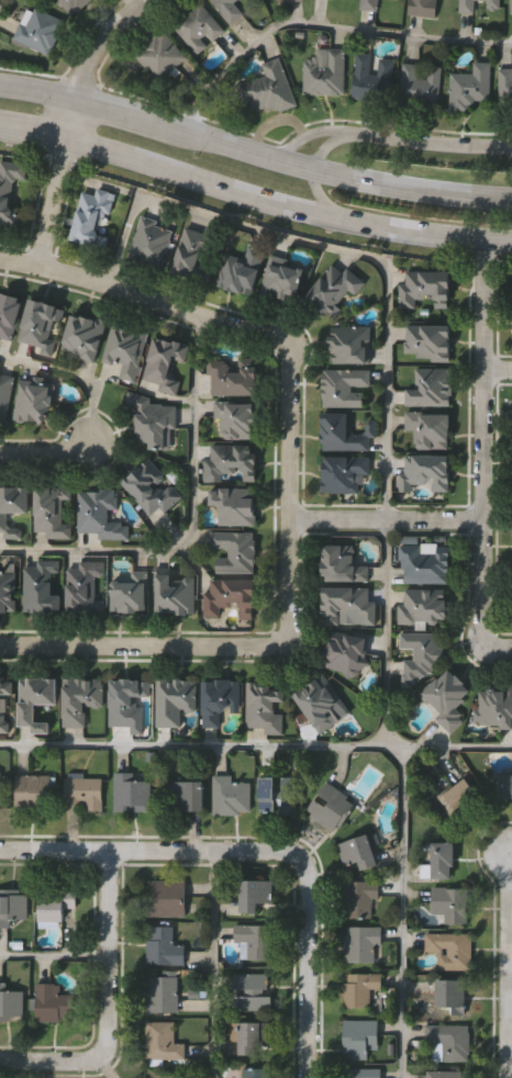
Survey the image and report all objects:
building: (289, 0)
road: (1, 1)
building: (494, 3)
building: (75, 4)
building: (370, 4)
building: (468, 5)
building: (511, 5)
building: (423, 8)
building: (231, 9)
road: (320, 26)
building: (198, 27)
building: (40, 30)
road: (98, 43)
building: (160, 56)
building: (324, 72)
building: (372, 79)
building: (419, 82)
building: (469, 87)
building: (268, 88)
building: (504, 91)
road: (37, 93)
road: (109, 113)
road: (71, 121)
road: (34, 134)
road: (301, 135)
road: (428, 135)
road: (203, 142)
road: (325, 149)
road: (288, 168)
road: (204, 182)
road: (411, 187)
building: (10, 191)
road: (323, 200)
road: (54, 203)
building: (93, 217)
road: (426, 235)
building: (152, 242)
building: (196, 255)
building: (241, 271)
building: (283, 278)
building: (333, 289)
building: (426, 289)
road: (142, 294)
building: (10, 314)
building: (42, 324)
road: (389, 335)
building: (87, 337)
building: (352, 343)
building: (427, 344)
building: (126, 350)
building: (166, 367)
road: (498, 368)
building: (232, 375)
road: (73, 377)
building: (345, 386)
building: (430, 389)
building: (5, 395)
building: (35, 398)
building: (235, 418)
building: (152, 422)
building: (430, 428)
building: (346, 433)
road: (485, 442)
road: (49, 453)
building: (230, 461)
building: (425, 471)
building: (344, 472)
building: (151, 485)
road: (290, 490)
building: (234, 505)
building: (12, 506)
building: (53, 509)
road: (388, 512)
building: (101, 513)
road: (194, 525)
building: (235, 552)
building: (343, 563)
building: (425, 563)
building: (40, 586)
building: (86, 586)
building: (9, 589)
building: (132, 592)
building: (172, 595)
building: (230, 597)
building: (348, 605)
building: (424, 605)
road: (498, 642)
road: (142, 644)
building: (347, 652)
building: (419, 654)
building: (81, 698)
building: (447, 698)
building: (176, 699)
building: (221, 699)
building: (320, 699)
building: (37, 700)
building: (1, 703)
building: (130, 703)
building: (494, 708)
building: (264, 709)
road: (256, 748)
building: (504, 785)
building: (1, 789)
building: (85, 789)
building: (33, 790)
building: (133, 791)
building: (189, 794)
building: (232, 795)
building: (277, 796)
building: (460, 798)
building: (333, 807)
road: (142, 850)
building: (356, 851)
building: (441, 860)
building: (255, 894)
building: (361, 897)
building: (168, 898)
building: (56, 903)
building: (452, 903)
building: (13, 905)
road: (405, 913)
building: (254, 937)
building: (361, 943)
building: (165, 947)
building: (452, 950)
road: (53, 956)
road: (510, 958)
road: (305, 959)
road: (214, 965)
road: (508, 973)
building: (361, 988)
building: (253, 989)
building: (163, 993)
building: (454, 993)
road: (105, 1001)
building: (10, 1002)
building: (52, 1002)
building: (253, 1037)
building: (360, 1037)
building: (447, 1041)
building: (163, 1042)
road: (510, 1063)
building: (363, 1073)
building: (256, 1074)
building: (446, 1074)

